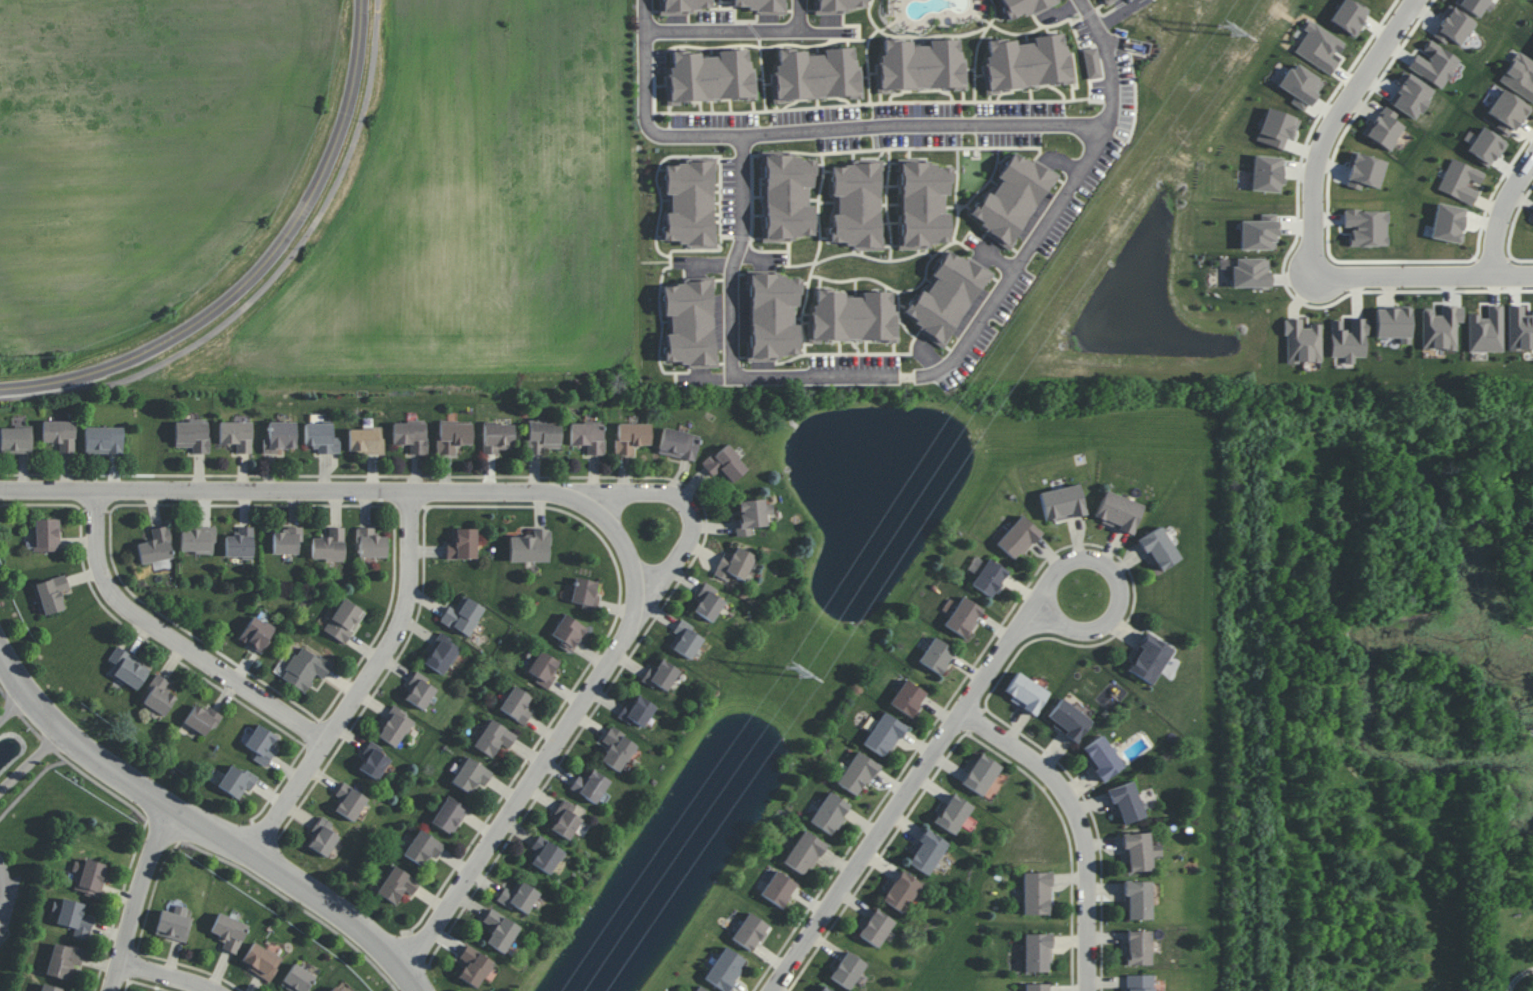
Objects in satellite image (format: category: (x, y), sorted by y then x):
building: (1105, 0)
building: (758, 5)
building: (841, 5)
building: (1475, 5)
building: (683, 6)
building: (1023, 7)
road: (1116, 13)
road: (795, 14)
building: (1348, 16)
building: (1453, 27)
road: (747, 28)
power tower: (1228, 31)
building: (1319, 47)
building: (1027, 62)
road: (642, 63)
building: (1092, 63)
building: (1434, 64)
building: (921, 65)
building: (816, 74)
building: (710, 76)
building: (1519, 76)
building: (1300, 86)
building: (1410, 95)
building: (1506, 111)
road: (873, 125)
road: (1331, 125)
building: (1276, 128)
building: (1384, 128)
building: (1485, 146)
building: (1364, 171)
building: (1266, 173)
building: (1459, 180)
building: (787, 197)
building: (1012, 198)
building: (689, 203)
building: (923, 204)
building: (856, 205)
road: (1504, 212)
building: (1532, 217)
building: (1447, 223)
building: (1366, 227)
building: (1258, 233)
road: (735, 252)
road: (759, 257)
road: (995, 258)
road: (705, 264)
road: (258, 268)
building: (1250, 272)
road: (1424, 276)
road: (270, 277)
road: (1004, 281)
building: (946, 296)
building: (772, 316)
building: (852, 316)
building: (689, 322)
building: (1392, 323)
building: (1440, 327)
building: (1519, 328)
building: (1485, 331)
building: (1348, 340)
building: (1301, 342)
building: (59, 434)
building: (236, 435)
building: (192, 436)
building: (410, 436)
building: (452, 436)
building: (279, 437)
building: (542, 437)
building: (588, 437)
building: (630, 437)
building: (321, 438)
building: (497, 438)
building: (15, 439)
building: (103, 440)
building: (365, 440)
building: (678, 444)
building: (725, 464)
road: (278, 492)
building: (1062, 503)
road: (681, 508)
building: (1118, 512)
building: (750, 516)
building: (46, 534)
building: (1018, 537)
building: (197, 540)
building: (286, 540)
building: (240, 543)
building: (328, 544)
building: (370, 544)
building: (462, 544)
building: (155, 546)
building: (530, 547)
building: (1158, 549)
building: (734, 564)
building: (989, 578)
road: (1118, 580)
building: (585, 593)
building: (51, 594)
building: (708, 602)
building: (462, 616)
building: (963, 617)
building: (343, 621)
building: (568, 632)
building: (256, 634)
road: (172, 639)
building: (685, 639)
building: (441, 654)
building: (936, 655)
building: (1148, 658)
building: (127, 668)
building: (543, 668)
power tower: (792, 668)
building: (304, 669)
building: (660, 675)
road: (363, 685)
building: (419, 691)
building: (1025, 693)
building: (158, 695)
building: (907, 698)
road: (10, 704)
building: (516, 704)
building: (637, 710)
building: (201, 718)
building: (1068, 719)
road: (563, 726)
building: (394, 727)
building: (884, 734)
building: (493, 738)
building: (260, 744)
building: (617, 749)
building: (1101, 758)
building: (372, 761)
road: (30, 763)
building: (857, 773)
building: (981, 774)
building: (470, 775)
building: (236, 781)
building: (590, 785)
road: (102, 792)
road: (904, 799)
building: (349, 801)
building: (1125, 802)
park: (19, 811)
building: (829, 813)
building: (953, 813)
building: (449, 815)
building: (565, 820)
road: (1078, 826)
road: (200, 831)
building: (321, 837)
building: (422, 847)
building: (1139, 851)
building: (803, 852)
building: (926, 852)
building: (545, 855)
building: (89, 877)
road: (1, 880)
building: (396, 885)
building: (778, 888)
building: (901, 891)
building: (1036, 893)
building: (518, 897)
road: (287, 900)
building: (1137, 900)
road: (139, 901)
building: (74, 918)
building: (173, 924)
building: (876, 927)
building: (499, 930)
building: (749, 931)
building: (229, 932)
building: (1138, 947)
building: (1036, 952)
building: (63, 960)
building: (261, 960)
building: (473, 966)
building: (724, 969)
building: (847, 970)
road: (166, 977)
road: (1519, 977)
building: (297, 979)
building: (1139, 982)
building: (1036, 987)
building: (49, 988)
building: (335, 988)
building: (699, 989)
building: (823, 989)

